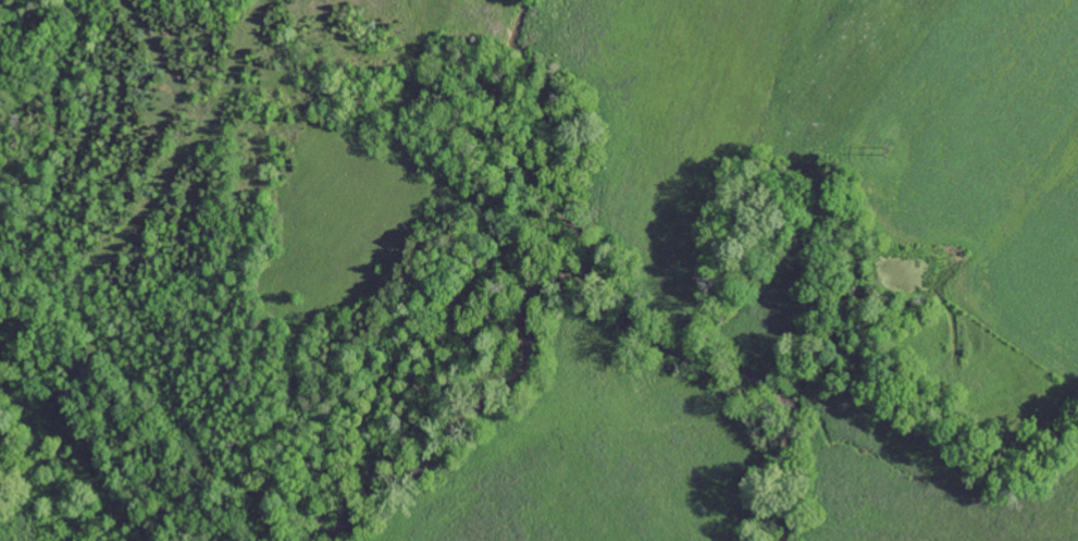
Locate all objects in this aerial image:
river: (575, 281)

